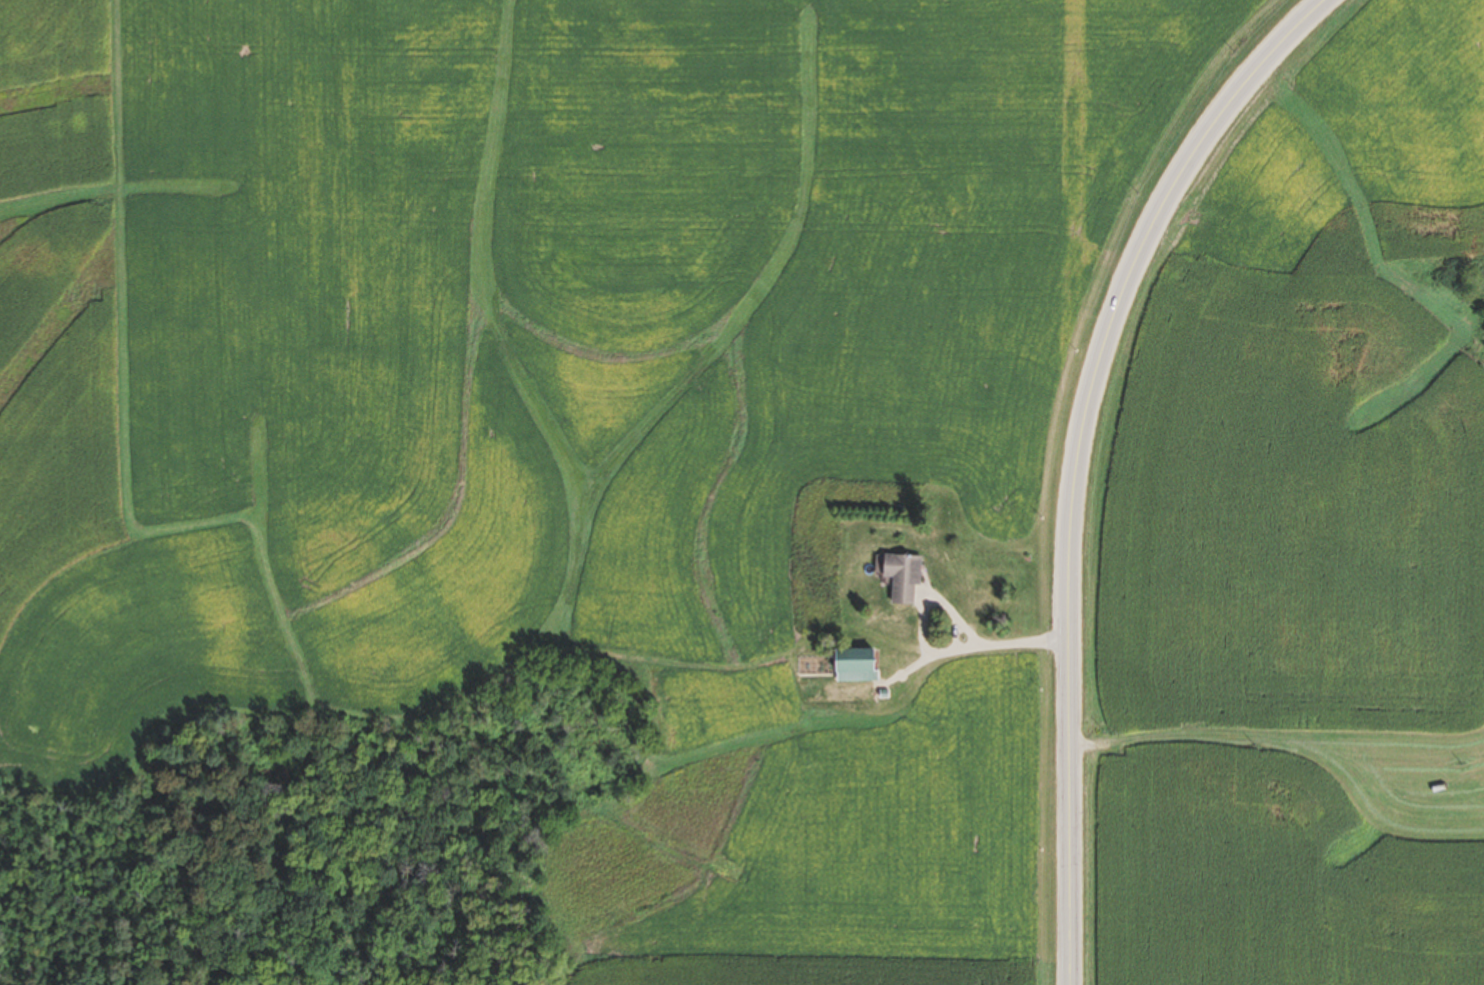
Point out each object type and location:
road: (1081, 456)
building: (902, 576)
building: (853, 663)

